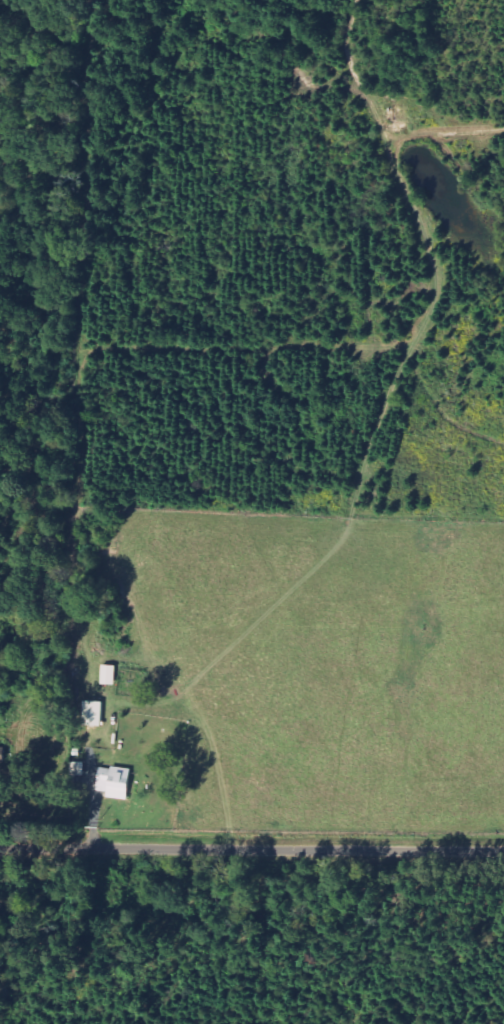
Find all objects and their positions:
building: (96, 714)
building: (118, 783)
road: (251, 852)

